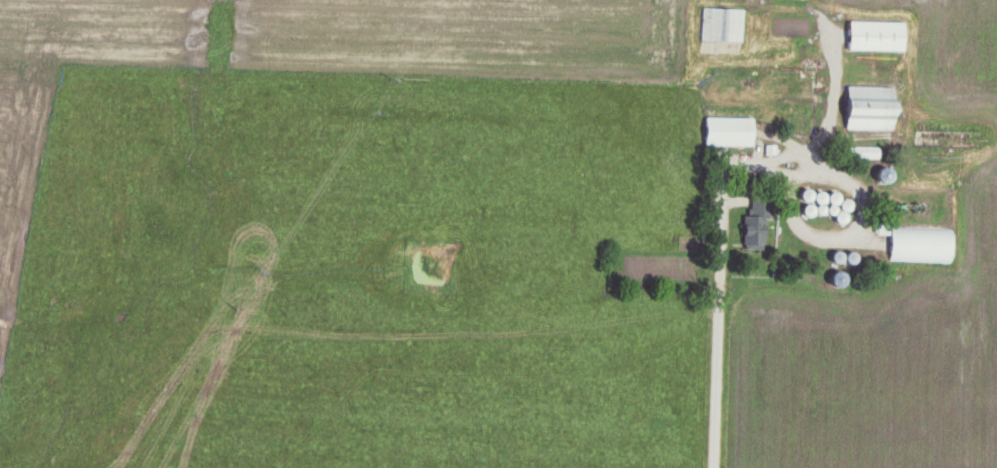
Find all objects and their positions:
building: (721, 24)
building: (874, 36)
building: (867, 108)
building: (725, 131)
building: (750, 233)
building: (919, 245)
road: (715, 314)

